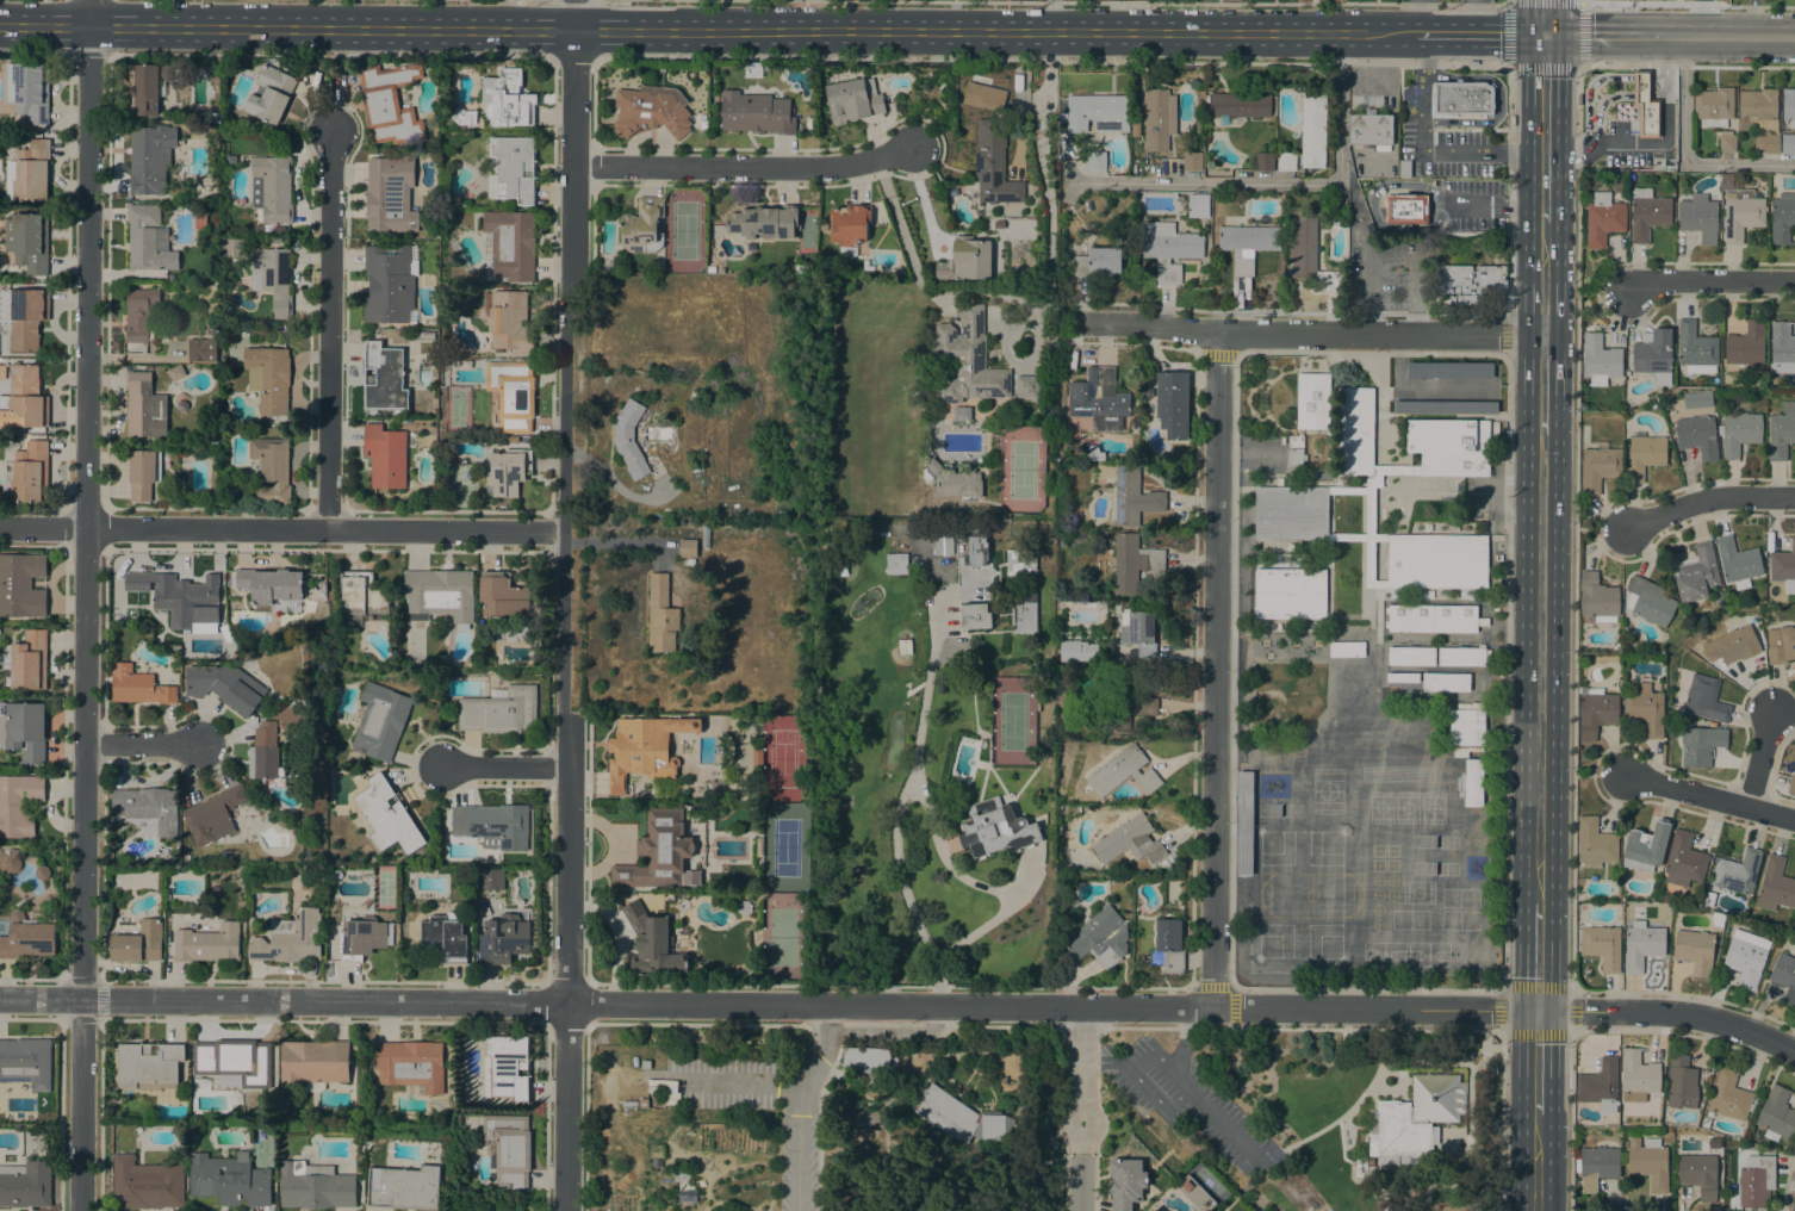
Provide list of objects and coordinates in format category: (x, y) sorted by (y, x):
road: (572, 0)
road: (1054, 1)
road: (1579, 2)
building: (1613, 2)
road: (1752, 2)
road: (1665, 5)
road: (1774, 6)
road: (87, 13)
road: (572, 15)
road: (1052, 15)
road: (1412, 15)
road: (1474, 17)
road: (1545, 17)
road: (1702, 18)
road: (1752, 21)
road: (701, 31)
road: (1408, 33)
road: (1418, 33)
road: (1484, 35)
traffic signals: (1545, 35)
road: (1604, 36)
road: (1729, 37)
road: (33, 54)
road: (87, 55)
road: (328, 56)
road: (573, 57)
road: (1178, 63)
road: (1579, 64)
road: (1598, 80)
building: (148, 85)
road: (330, 89)
building: (29, 91)
building: (269, 94)
road: (1611, 95)
building: (852, 97)
building: (985, 97)
building: (1462, 98)
building: (508, 99)
building: (390, 103)
building: (1240, 104)
building: (1646, 106)
building: (1714, 106)
building: (1789, 106)
building: (1757, 108)
building: (651, 111)
building: (756, 112)
building: (1098, 113)
building: (702, 116)
building: (464, 117)
building: (1159, 117)
building: (702, 124)
building: (255, 125)
building: (1312, 129)
building: (1371, 129)
road: (1544, 129)
building: (1726, 142)
road: (1656, 143)
building: (1768, 143)
building: (1788, 143)
road: (1043, 147)
parking lot: (1623, 147)
road: (1426, 150)
road: (1683, 155)
building: (149, 159)
building: (1097, 160)
building: (1192, 161)
building: (1263, 161)
building: (1286, 161)
building: (994, 163)
road: (743, 166)
building: (514, 168)
building: (1404, 168)
building: (31, 170)
road: (1275, 182)
building: (273, 187)
building: (390, 194)
road: (919, 198)
road: (1495, 204)
building: (1198, 205)
road: (1372, 209)
building: (1406, 209)
building: (1740, 209)
building: (1647, 213)
building: (1698, 215)
building: (1782, 218)
building: (764, 222)
building: (1603, 222)
building: (849, 224)
building: (999, 224)
building: (642, 226)
building: (1014, 231)
building: (145, 237)
building: (275, 238)
building: (27, 241)
building: (510, 243)
building: (1247, 244)
building: (232, 247)
building: (1168, 248)
building: (1310, 254)
building: (1093, 259)
building: (965, 260)
building: (712, 268)
building: (800, 268)
road: (1372, 269)
building: (273, 278)
road: (1412, 278)
road: (1542, 279)
road: (1710, 280)
building: (1471, 282)
building: (390, 284)
road: (1601, 292)
road: (951, 296)
building: (23, 315)
building: (141, 317)
building: (509, 321)
road: (328, 327)
road: (1308, 333)
building: (424, 335)
road: (1507, 337)
building: (1746, 344)
building: (1782, 348)
building: (1696, 349)
building: (201, 350)
building: (1653, 354)
building: (1600, 358)
building: (967, 359)
building: (1448, 369)
building: (175, 372)
building: (268, 378)
building: (384, 378)
road: (1541, 385)
building: (1027, 386)
building: (513, 393)
building: (26, 397)
building: (1099, 399)
building: (1312, 400)
building: (1172, 403)
building: (144, 406)
building: (1445, 406)
road: (1574, 418)
building: (1356, 430)
building: (1781, 430)
building: (1738, 431)
building: (1697, 436)
building: (628, 439)
building: (1449, 446)
building: (1296, 449)
building: (1095, 453)
building: (1642, 454)
building: (385, 455)
building: (1598, 466)
building: (272, 468)
building: (508, 471)
building: (27, 473)
building: (143, 473)
building: (955, 479)
building: (1279, 482)
building: (1130, 493)
road: (1707, 498)
road: (85, 513)
building: (1291, 513)
building: (782, 514)
building: (1372, 514)
road: (281, 528)
road: (1600, 528)
building: (704, 533)
building: (943, 540)
road: (621, 541)
building: (1064, 541)
building: (977, 546)
building: (1290, 546)
building: (688, 548)
building: (1259, 559)
building: (1738, 560)
building: (690, 561)
building: (1021, 561)
building: (1437, 561)
building: (1135, 563)
building: (896, 564)
building: (1783, 564)
building: (1696, 573)
building: (21, 585)
building: (269, 585)
building: (362, 592)
building: (1290, 594)
building: (1429, 594)
building: (440, 595)
building: (501, 595)
building: (1597, 596)
building: (179, 597)
building: (1719, 597)
building: (1648, 601)
building: (1023, 613)
building: (660, 614)
building: (974, 616)
building: (1434, 619)
road: (561, 621)
building: (1139, 632)
building: (510, 634)
building: (1781, 644)
building: (1732, 645)
building: (1347, 648)
building: (1077, 651)
building: (1411, 656)
building: (1461, 657)
building: (29, 660)
road: (1232, 669)
road: (1215, 670)
road: (1540, 670)
road: (1503, 675)
building: (1402, 677)
building: (1446, 682)
building: (138, 685)
building: (225, 685)
building: (1704, 700)
building: (1119, 701)
building: (1144, 706)
building: (1645, 709)
building: (499, 710)
building: (1595, 712)
building: (380, 721)
building: (23, 729)
building: (1466, 731)
building: (274, 741)
road: (139, 744)
building: (1700, 745)
building: (644, 749)
building: (757, 757)
road: (1758, 758)
road: (503, 766)
building: (1123, 771)
road: (1598, 774)
building: (1472, 782)
building: (1791, 784)
road: (1709, 796)
building: (19, 805)
building: (148, 807)
road: (897, 809)
building: (212, 815)
building: (387, 816)
building: (492, 825)
building: (996, 828)
building: (1129, 842)
building: (1595, 843)
building: (1646, 846)
building: (759, 847)
building: (659, 852)
building: (1684, 859)
building: (8, 861)
building: (1738, 872)
building: (336, 874)
building: (491, 878)
building: (1775, 886)
building: (1579, 898)
building: (1709, 899)
building: (533, 931)
building: (29, 934)
building: (365, 937)
building: (1099, 937)
building: (290, 938)
building: (445, 938)
building: (503, 939)
building: (137, 943)
building: (653, 943)
building: (207, 944)
building: (1168, 945)
building: (1641, 945)
building: (1602, 946)
building: (1695, 950)
road: (1538, 957)
building: (1746, 957)
building: (1784, 976)
road: (769, 1004)
traffic signals: (1538, 1010)
road: (1669, 1013)
road: (604, 1024)
road: (896, 1025)
road: (946, 1027)
road: (1080, 1027)
road: (1300, 1027)
road: (1501, 1032)
road: (826, 1033)
road: (1184, 1036)
building: (976, 1055)
building: (867, 1058)
road: (818, 1060)
building: (26, 1062)
building: (234, 1062)
building: (657, 1062)
road: (1536, 1062)
building: (313, 1063)
building: (149, 1064)
building: (410, 1064)
building: (646, 1064)
building: (507, 1067)
building: (1638, 1075)
road: (1179, 1078)
road: (1080, 1079)
road: (1138, 1082)
building: (1681, 1082)
building: (1600, 1085)
building: (664, 1088)
road: (1063, 1092)
road: (1095, 1092)
building: (1729, 1095)
building: (642, 1101)
building: (629, 1104)
road: (81, 1105)
building: (1776, 1113)
building: (959, 1117)
building: (1415, 1119)
road: (1499, 1122)
road: (1570, 1122)
building: (1706, 1122)
road: (819, 1126)
building: (509, 1149)
building: (656, 1162)
road: (799, 1162)
road: (1535, 1162)
building: (1648, 1162)
building: (1596, 1166)
building: (1362, 1167)
building: (1700, 1173)
building: (681, 1174)
building: (229, 1180)
building: (1757, 1180)
road: (1080, 1181)
building: (1126, 1182)
building: (26, 1184)
building: (145, 1184)
building: (316, 1186)
building: (405, 1187)
building: (1194, 1193)
building: (1459, 1207)
building: (1151, 1210)
building: (1155, 1210)

